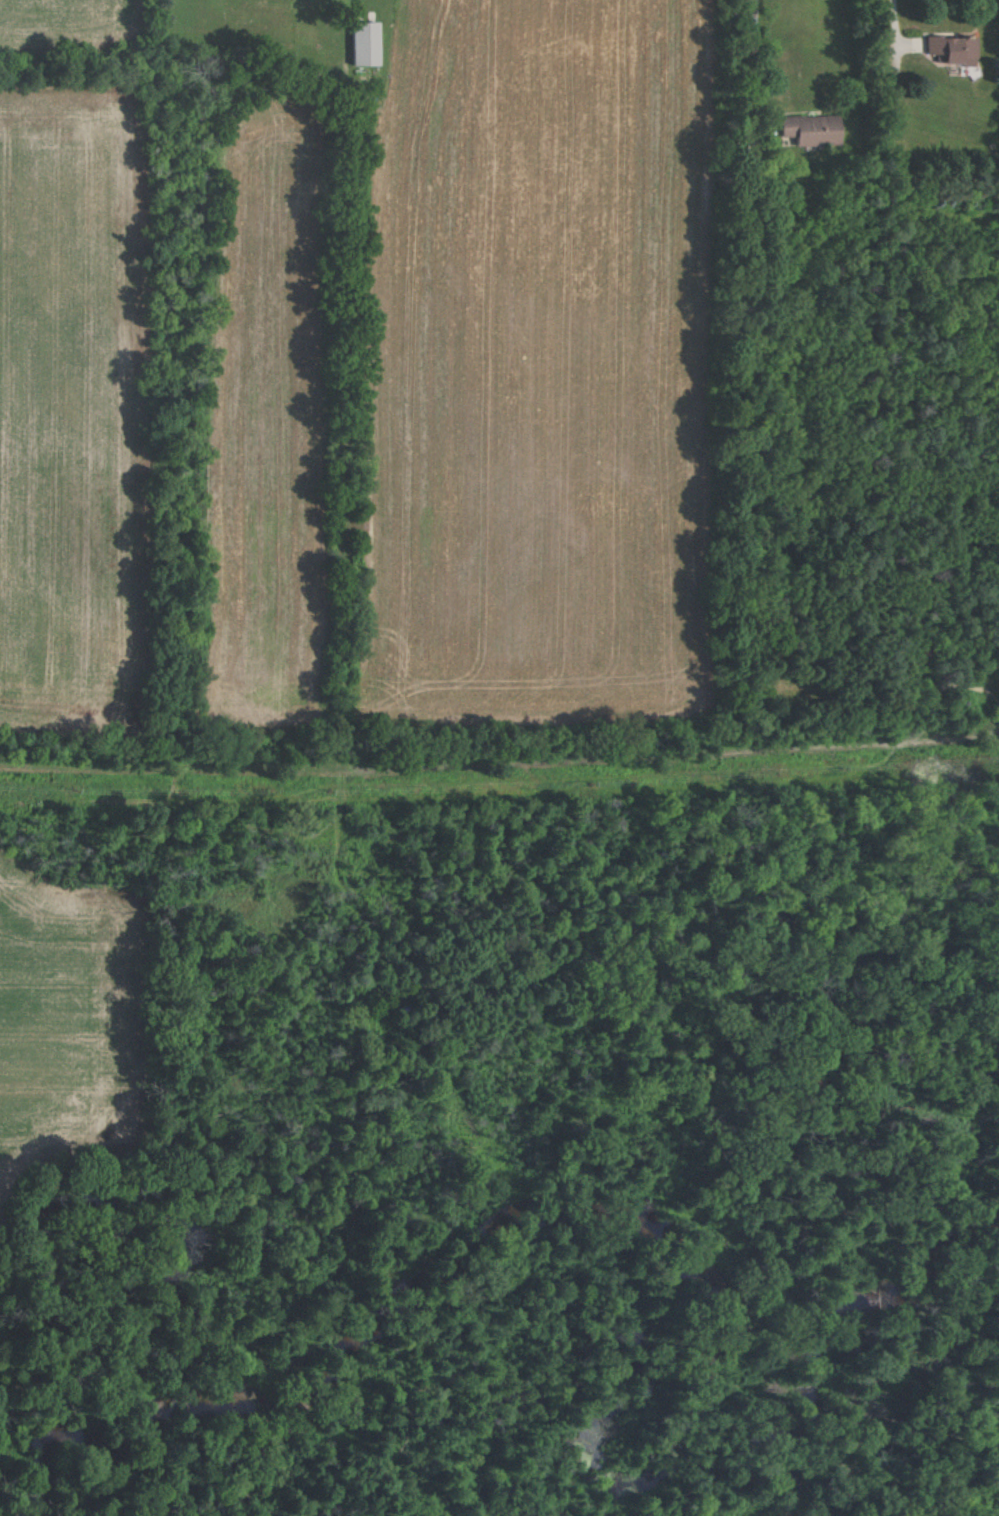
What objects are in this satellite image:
road: (892, 25)
building: (363, 43)
building: (950, 50)
road: (753, 61)
building: (809, 129)

